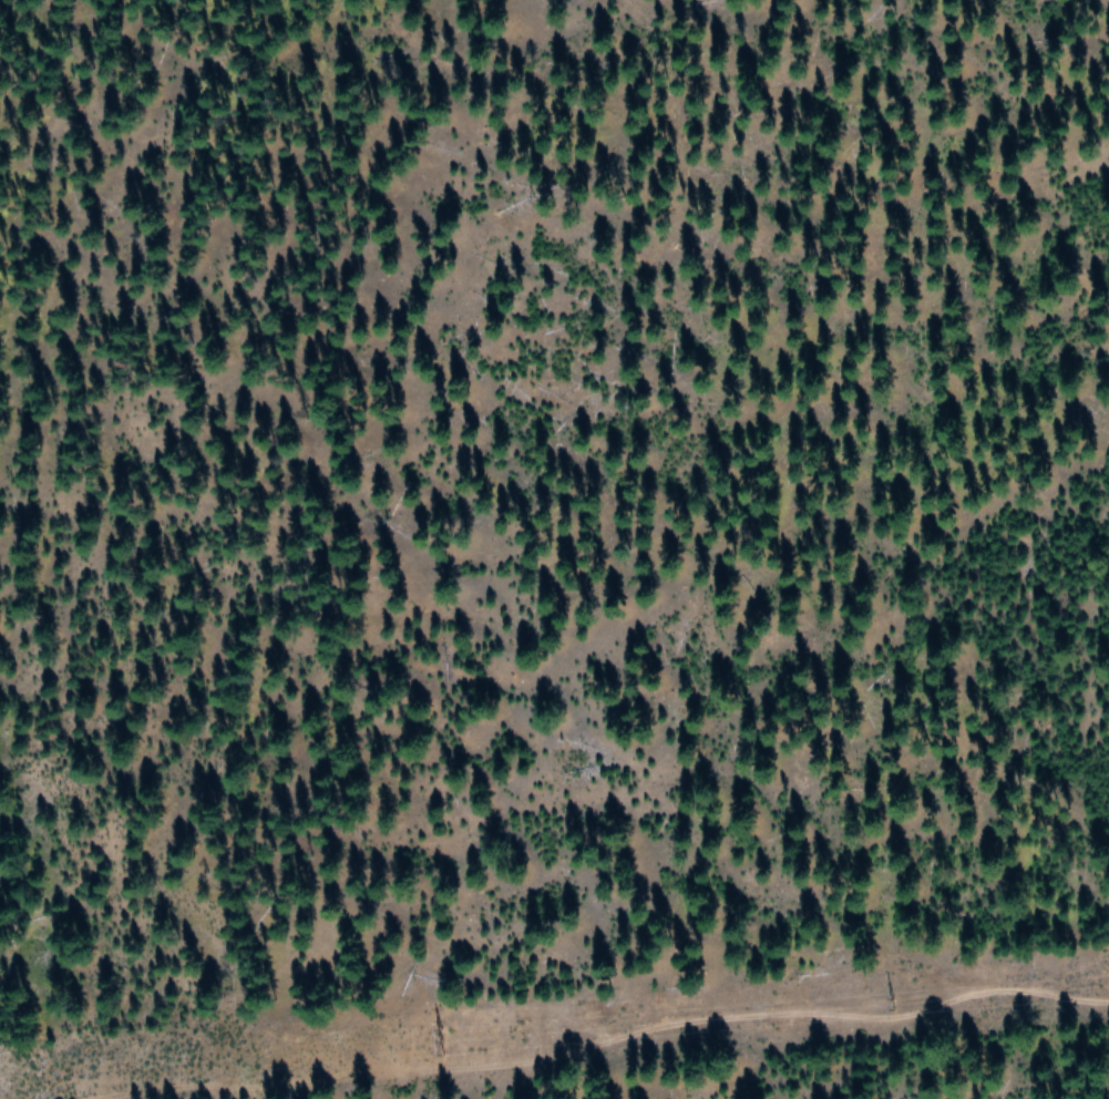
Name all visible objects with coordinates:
power tower: (891, 1000)
power tower: (443, 1039)

